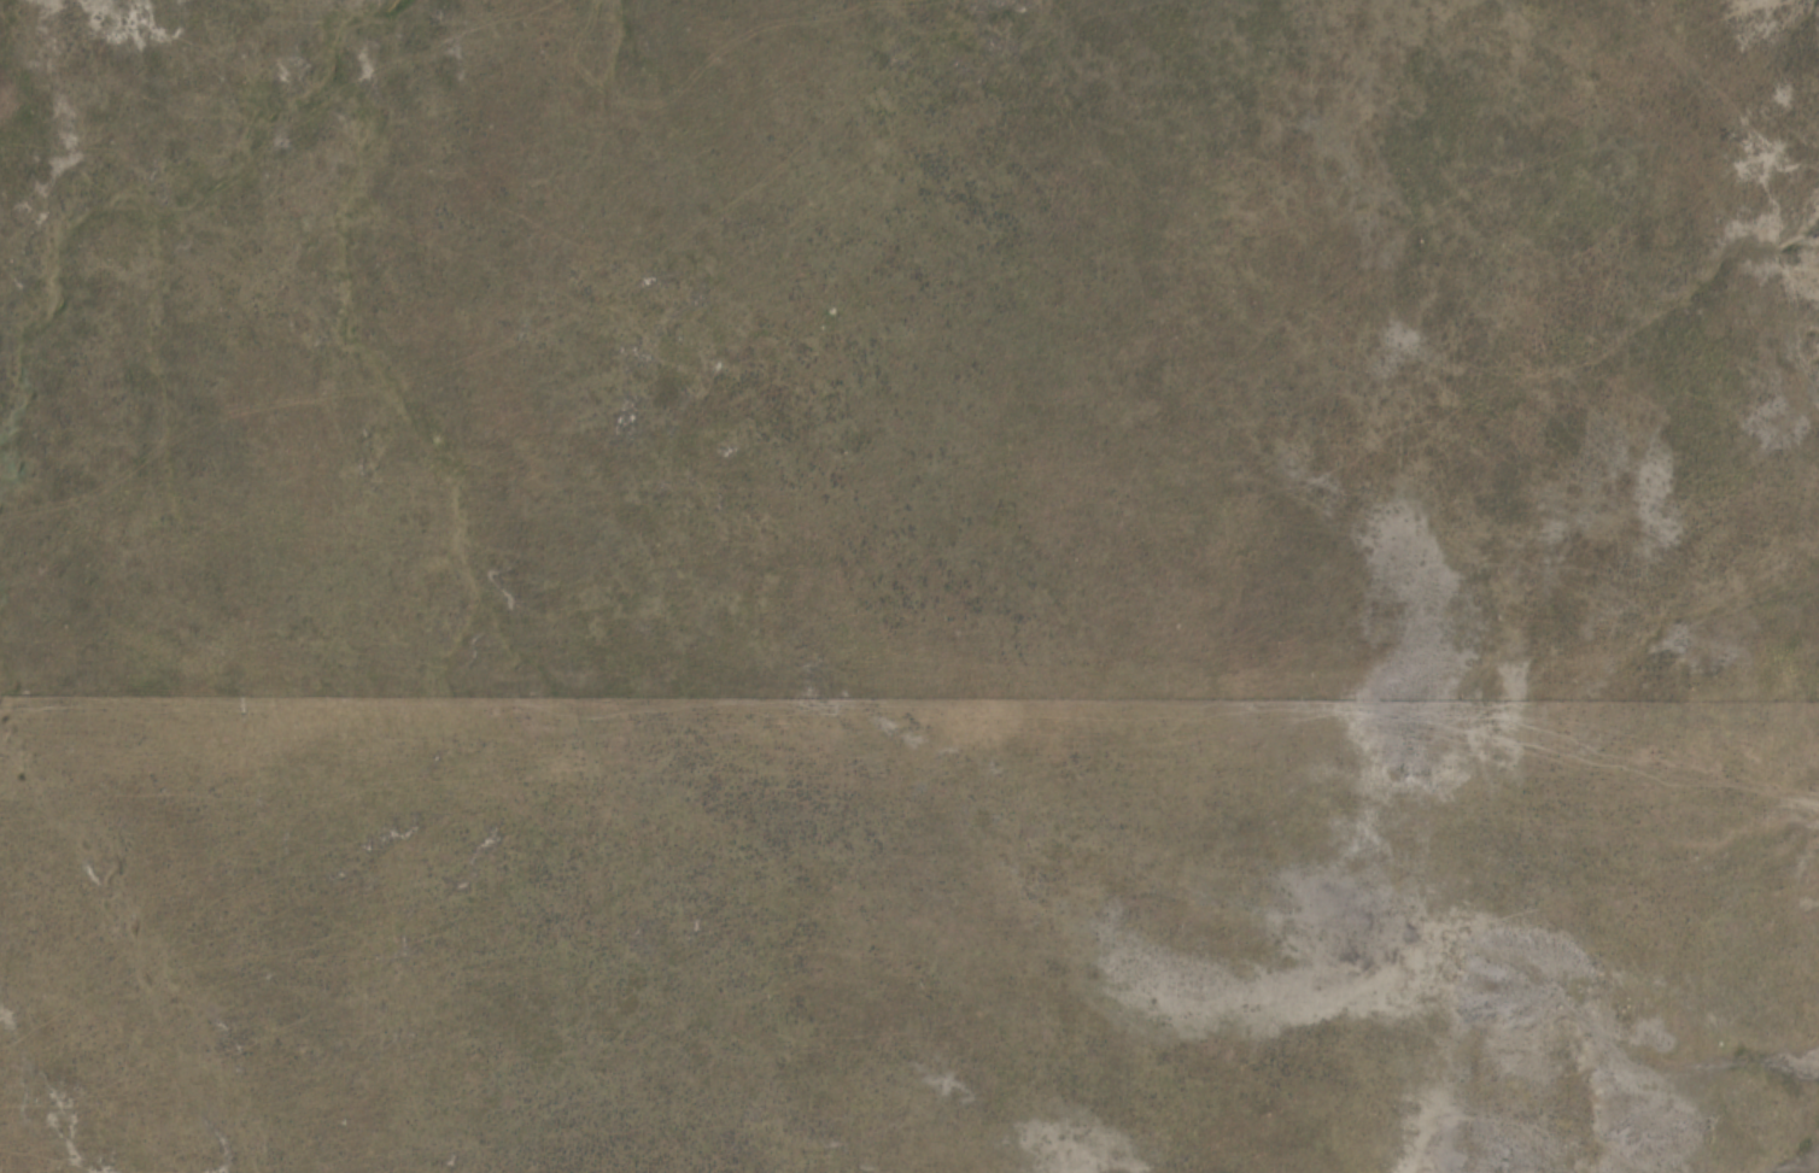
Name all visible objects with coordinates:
power tower: (1754, 147)

